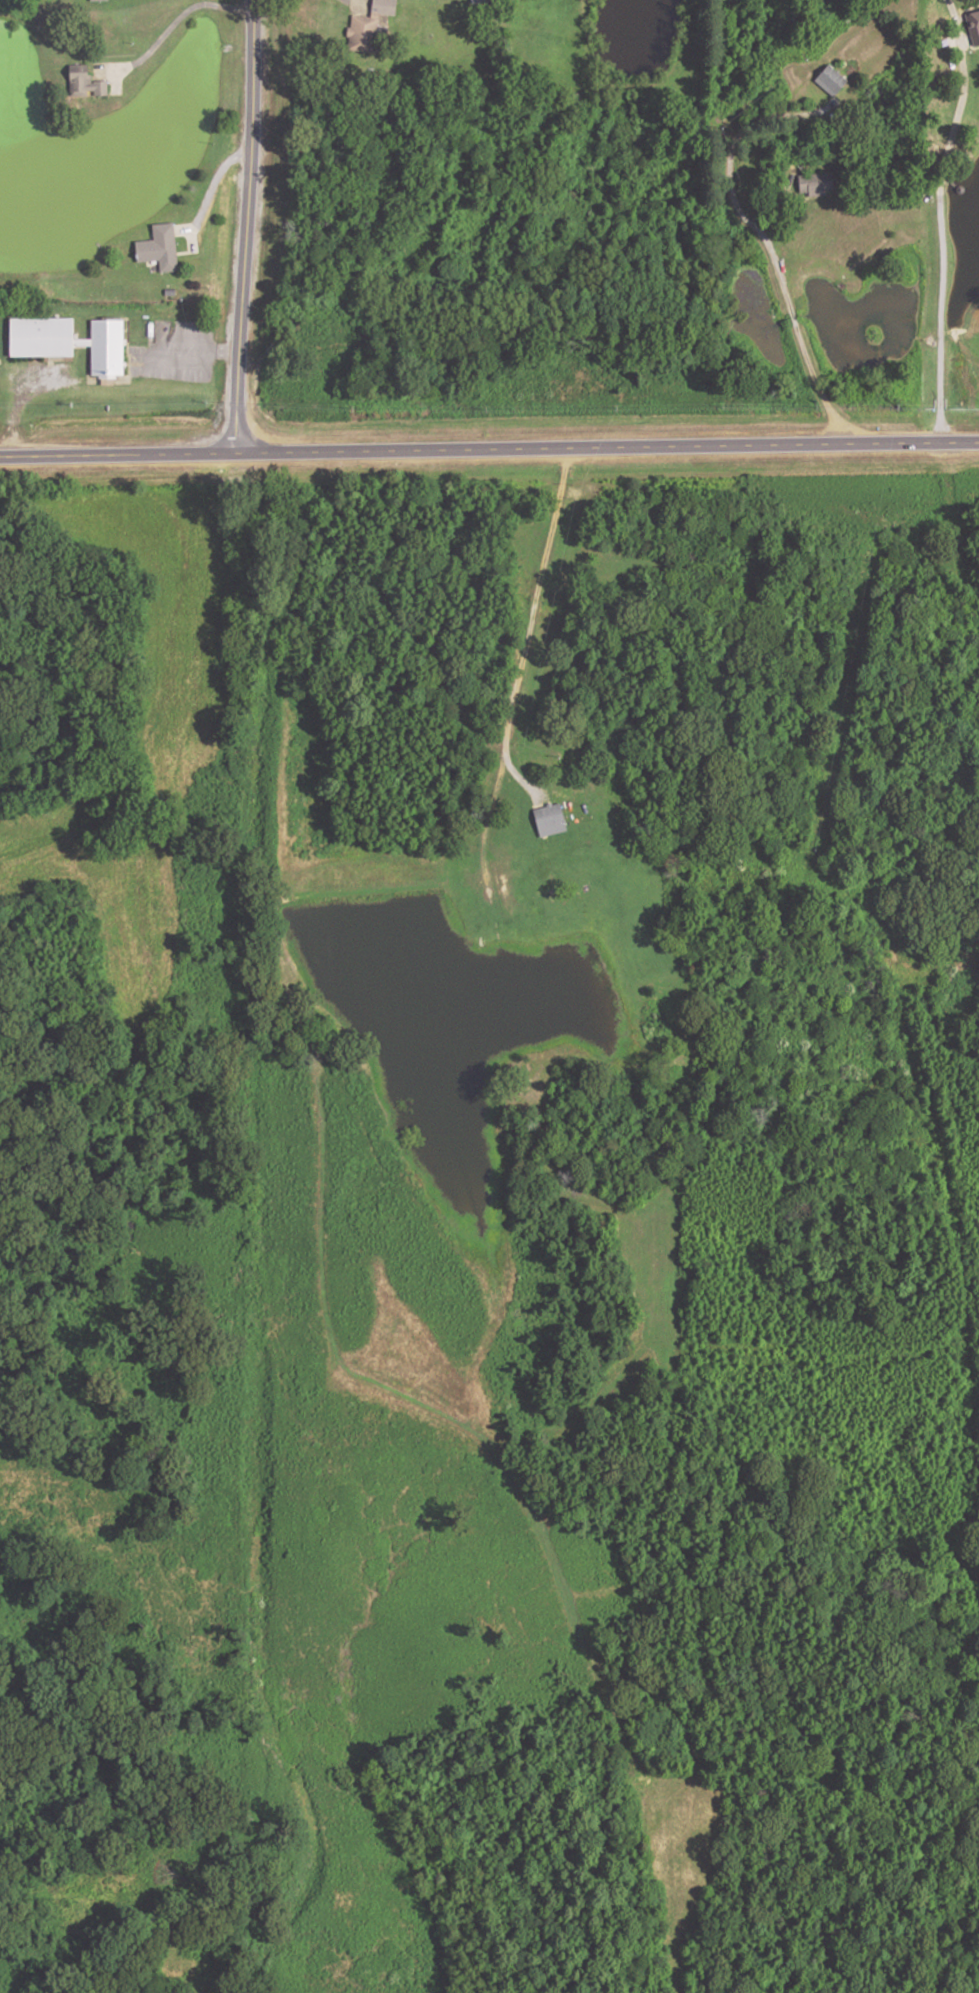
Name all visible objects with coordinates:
building: (93, 0)
building: (475, 1)
road: (354, 2)
road: (170, 26)
building: (972, 27)
building: (368, 30)
building: (902, 55)
building: (827, 80)
building: (81, 83)
road: (731, 139)
building: (812, 184)
road: (211, 190)
road: (938, 217)
road: (246, 226)
building: (156, 249)
road: (789, 308)
building: (36, 336)
building: (102, 347)
road: (186, 351)
road: (13, 407)
road: (489, 448)
road: (950, 519)
building: (548, 819)
road: (775, 892)
road: (485, 919)
building: (705, 931)
road: (961, 1276)
road: (634, 1384)

